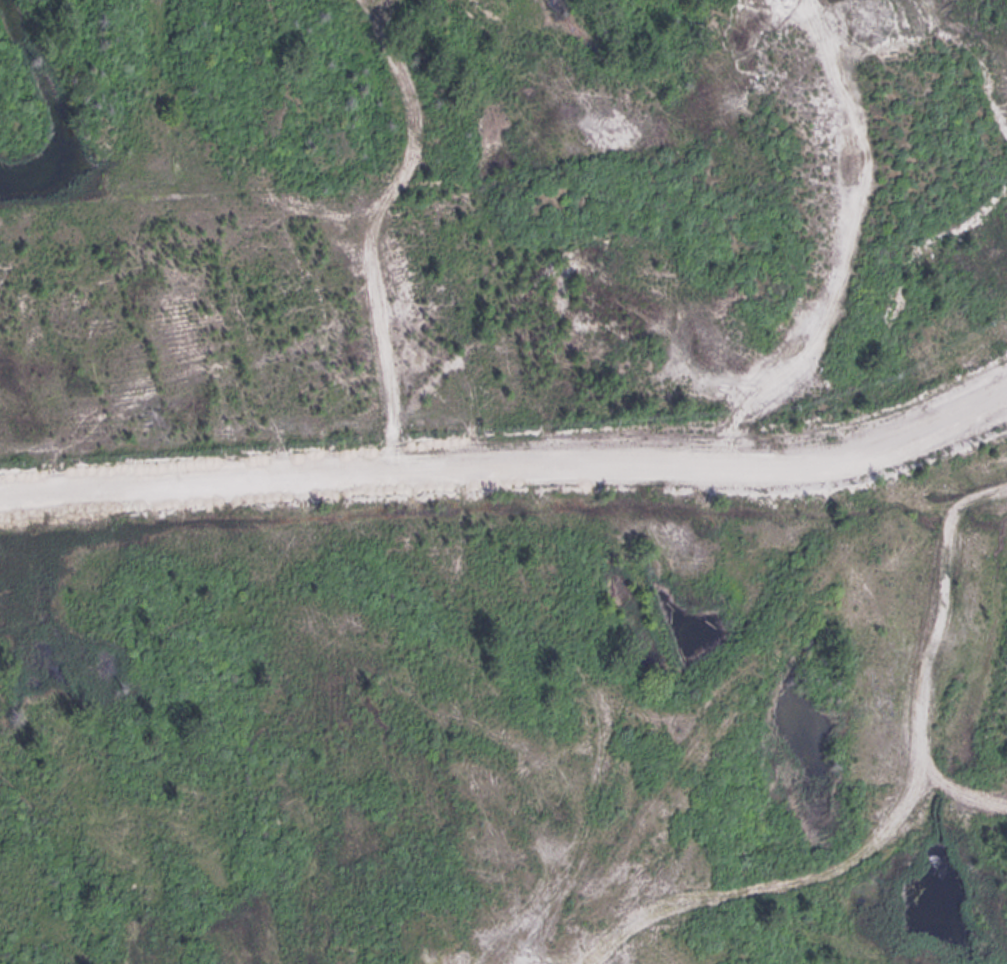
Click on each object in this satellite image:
road: (892, 209)
road: (508, 467)
road: (972, 509)
road: (935, 682)
road: (829, 860)

